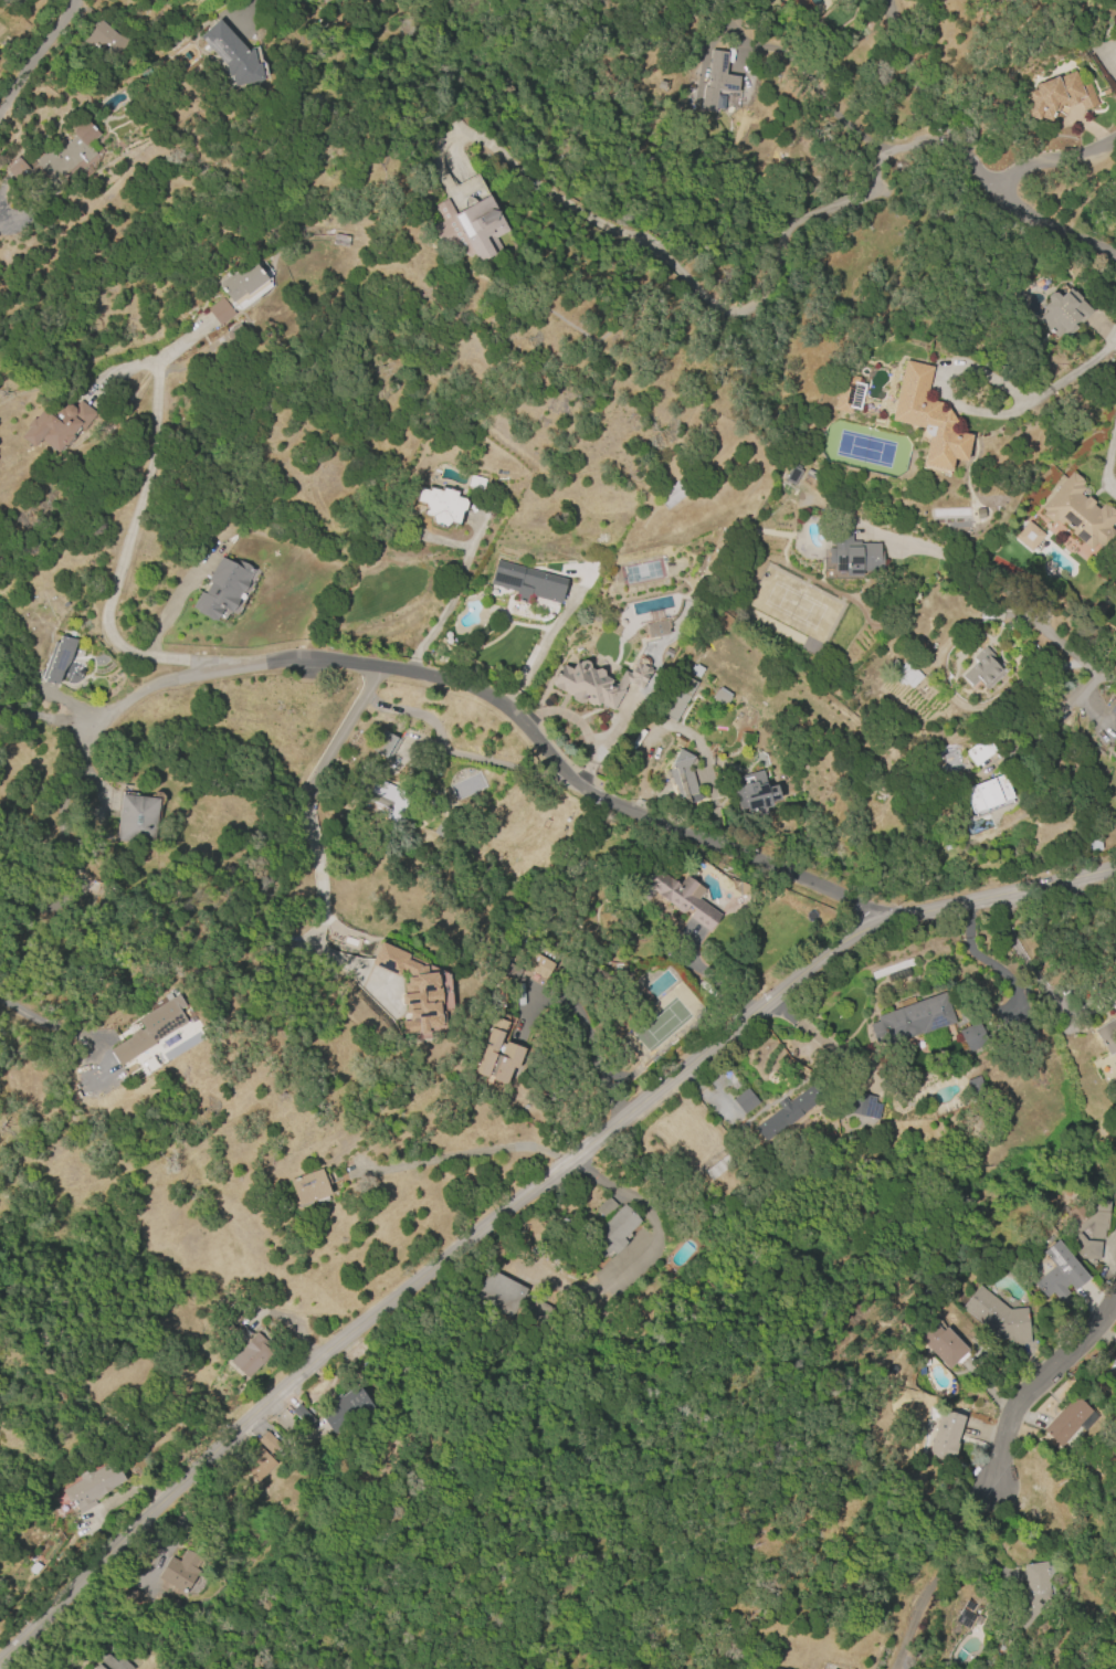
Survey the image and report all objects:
road: (248, 12)
building: (105, 40)
road: (27, 51)
building: (231, 54)
road: (918, 68)
building: (716, 81)
road: (818, 87)
building: (1057, 96)
building: (55, 160)
road: (1053, 162)
road: (994, 190)
building: (470, 228)
building: (339, 240)
building: (242, 281)
building: (220, 311)
building: (1063, 313)
road: (1078, 372)
road: (945, 384)
building: (849, 393)
building: (927, 419)
building: (55, 425)
road: (1113, 458)
building: (475, 482)
building: (441, 506)
building: (1077, 513)
road: (131, 529)
building: (1028, 536)
building: (853, 553)
building: (527, 583)
building: (222, 588)
road: (1018, 592)
road: (175, 600)
road: (450, 602)
road: (540, 653)
building: (57, 659)
building: (981, 667)
building: (696, 670)
building: (906, 675)
building: (596, 684)
building: (720, 696)
building: (677, 700)
building: (1113, 708)
road: (504, 709)
road: (1053, 717)
road: (48, 722)
road: (339, 733)
building: (386, 746)
building: (981, 750)
road: (449, 752)
road: (86, 763)
building: (683, 777)
building: (752, 792)
building: (987, 793)
building: (386, 797)
building: (136, 820)
building: (1093, 842)
road: (72, 859)
road: (320, 883)
building: (677, 896)
road: (1018, 951)
road: (987, 961)
building: (538, 965)
road: (708, 976)
building: (412, 989)
building: (1112, 1001)
building: (913, 1020)
road: (48, 1023)
building: (150, 1028)
building: (1106, 1036)
building: (972, 1037)
building: (497, 1055)
building: (745, 1101)
building: (862, 1106)
building: (787, 1113)
road: (465, 1154)
building: (719, 1165)
building: (309, 1186)
road: (523, 1196)
building: (606, 1206)
building: (1071, 1229)
building: (612, 1233)
building: (1060, 1271)
building: (499, 1293)
building: (233, 1317)
building: (998, 1317)
building: (241, 1333)
building: (938, 1342)
building: (251, 1354)
building: (1114, 1361)
building: (1115, 1367)
road: (1036, 1382)
building: (345, 1408)
building: (303, 1415)
building: (1068, 1420)
building: (945, 1436)
building: (267, 1443)
building: (256, 1464)
building: (92, 1486)
building: (179, 1571)
road: (934, 1571)
building: (1031, 1595)
building: (966, 1614)
building: (112, 1663)

